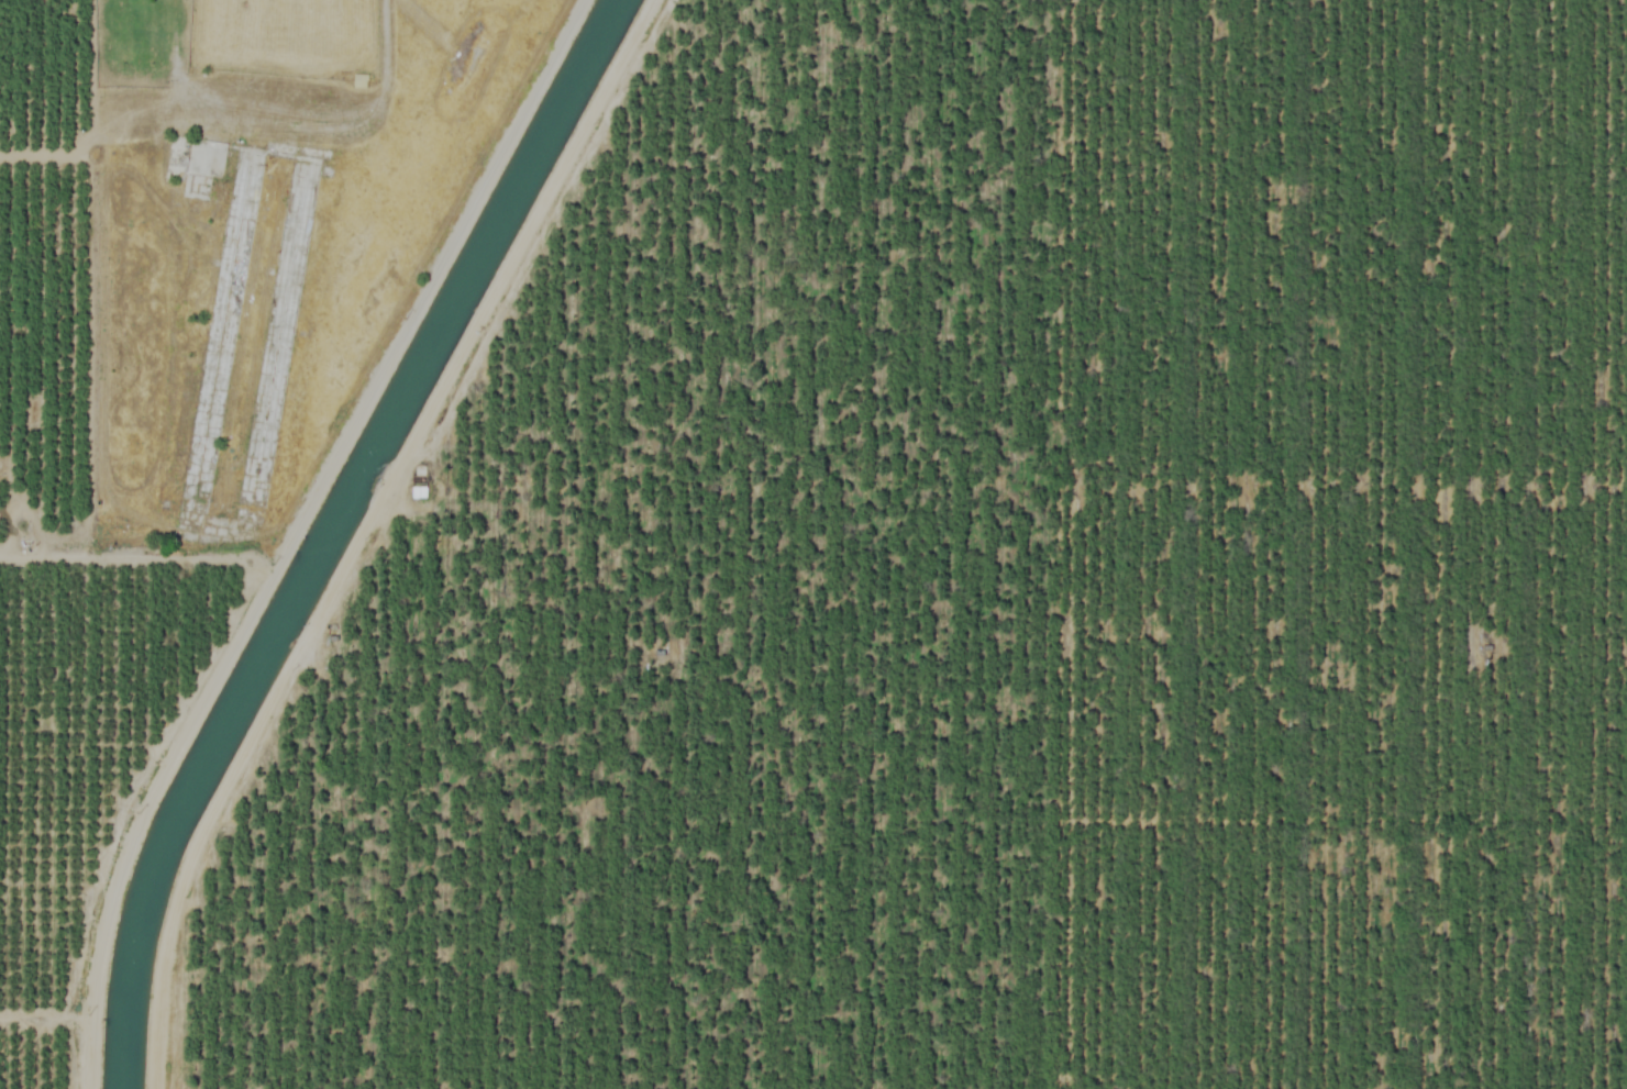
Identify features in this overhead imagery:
building: (417, 492)

